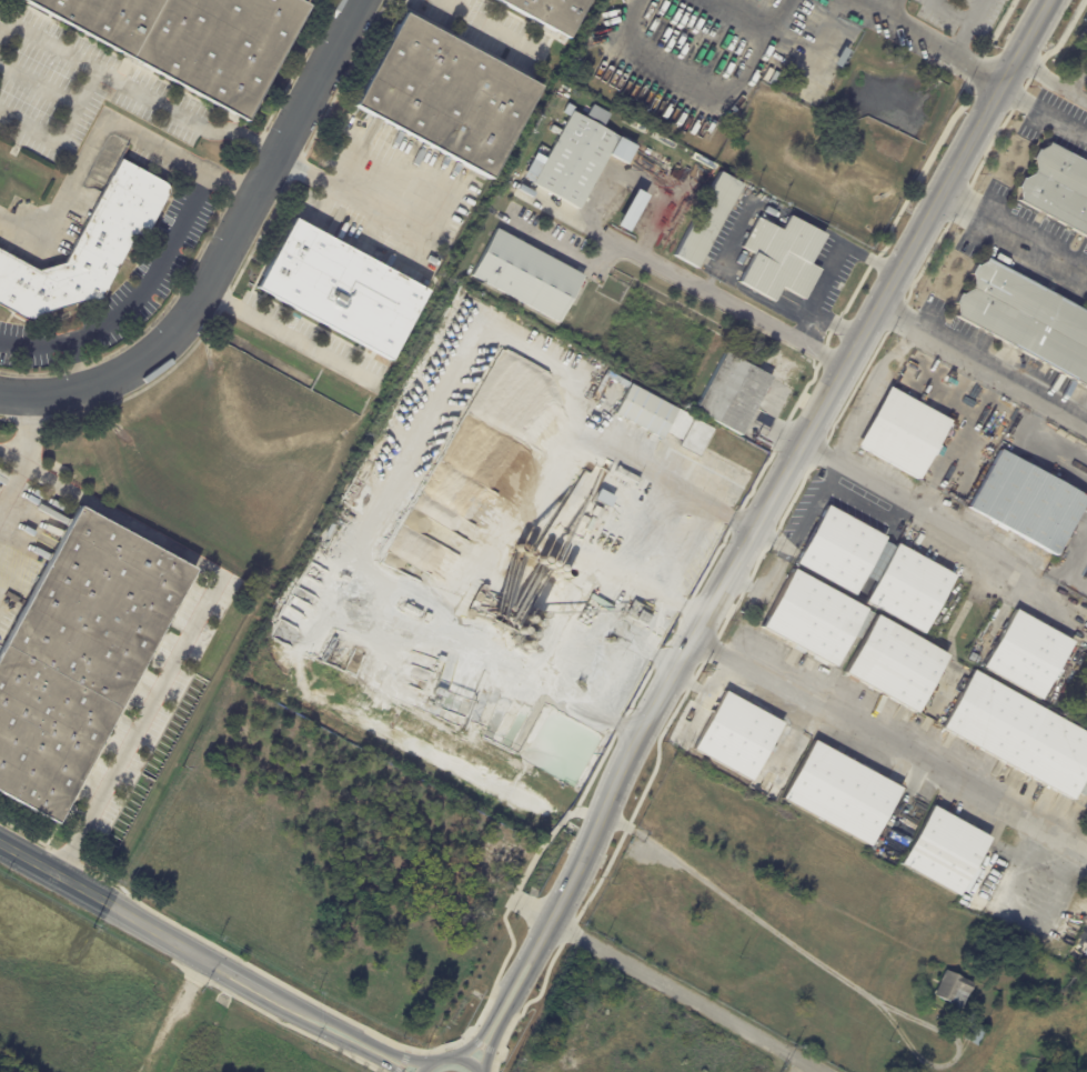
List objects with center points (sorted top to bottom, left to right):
road: (890, 7)
building: (550, 12)
road: (977, 12)
road: (950, 13)
road: (491, 26)
road: (964, 39)
road: (934, 40)
building: (192, 41)
building: (839, 59)
building: (767, 76)
building: (787, 76)
road: (1077, 78)
building: (773, 79)
road: (1049, 84)
road: (131, 89)
road: (701, 89)
building: (449, 97)
road: (1043, 113)
road: (100, 126)
building: (577, 157)
building: (101, 176)
building: (515, 180)
building: (1060, 187)
road: (348, 192)
building: (628, 210)
building: (775, 217)
building: (709, 220)
road: (922, 227)
road: (1014, 233)
building: (88, 247)
road: (224, 251)
building: (783, 260)
building: (529, 274)
road: (693, 281)
road: (821, 288)
building: (343, 290)
road: (132, 298)
building: (1029, 318)
road: (835, 323)
road: (283, 337)
road: (980, 370)
road: (950, 392)
building: (733, 394)
building: (613, 395)
road: (872, 397)
building: (645, 411)
building: (680, 423)
road: (26, 424)
building: (907, 432)
building: (696, 438)
road: (1039, 445)
road: (954, 448)
road: (17, 473)
building: (626, 474)
road: (668, 481)
building: (602, 498)
building: (1031, 503)
building: (596, 512)
road: (952, 539)
road: (621, 563)
building: (874, 569)
building: (612, 598)
building: (555, 601)
building: (563, 607)
building: (412, 610)
building: (638, 613)
building: (578, 625)
road: (192, 627)
road: (641, 642)
building: (894, 648)
building: (1028, 654)
building: (79, 657)
building: (974, 658)
building: (350, 670)
road: (665, 693)
road: (602, 717)
building: (1019, 735)
building: (737, 737)
road: (890, 748)
building: (1083, 781)
building: (841, 794)
building: (945, 853)
road: (102, 898)
road: (525, 953)
road: (532, 969)
road: (238, 970)
road: (829, 970)
building: (953, 988)
building: (1025, 991)
road: (685, 994)
road: (276, 1006)
road: (313, 1009)
road: (487, 1022)
building: (974, 1033)
road: (496, 1035)
road: (503, 1035)
road: (482, 1044)
road: (449, 1046)
road: (395, 1052)
road: (380, 1058)
road: (450, 1058)
road: (368, 1061)
road: (403, 1061)

